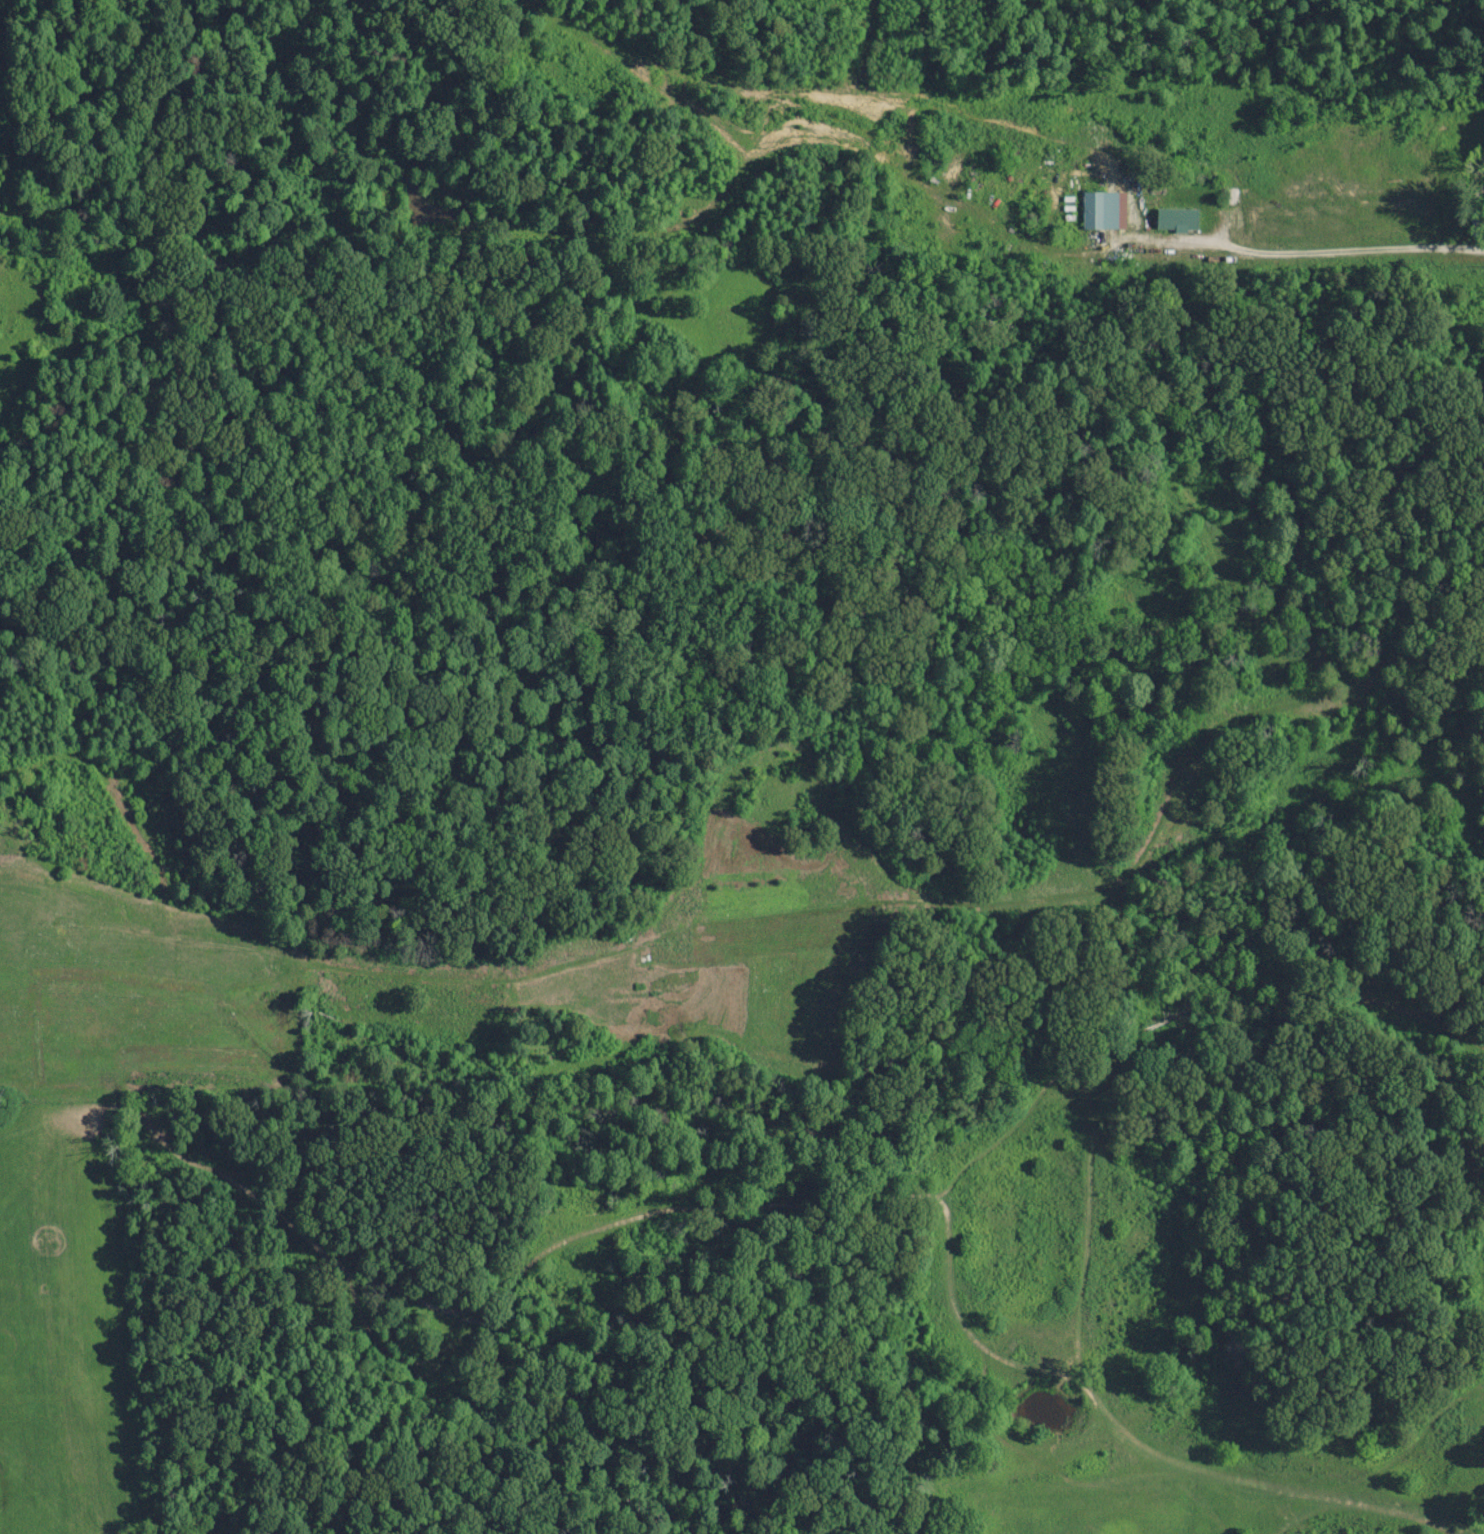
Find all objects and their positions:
building: (1097, 211)
building: (1173, 221)

